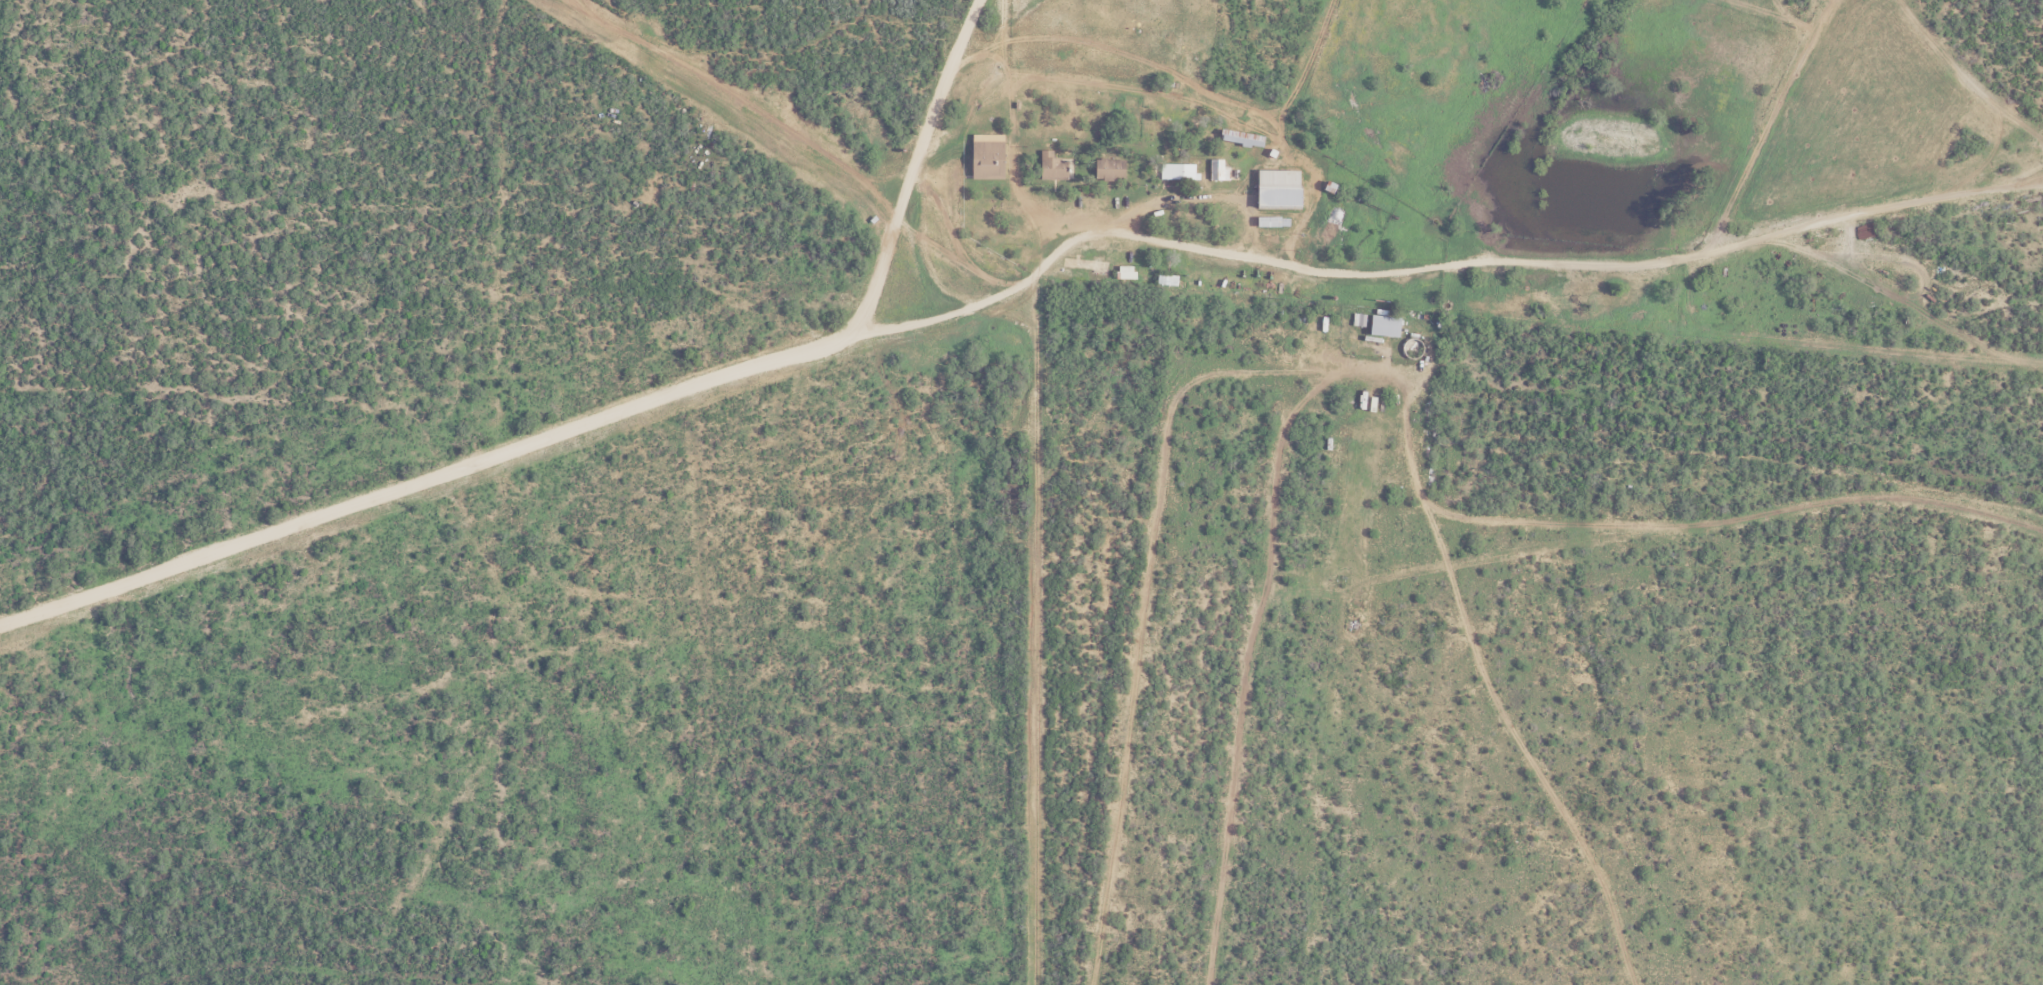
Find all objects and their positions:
airport runway: (704, 91)
building: (1239, 137)
building: (985, 158)
building: (1050, 166)
building: (1106, 169)
building: (1216, 169)
road: (920, 171)
building: (1175, 171)
road: (2021, 176)
building: (1275, 188)
road: (1135, 233)
road: (1721, 248)
building: (1124, 271)
building: (1381, 324)
road: (426, 479)

